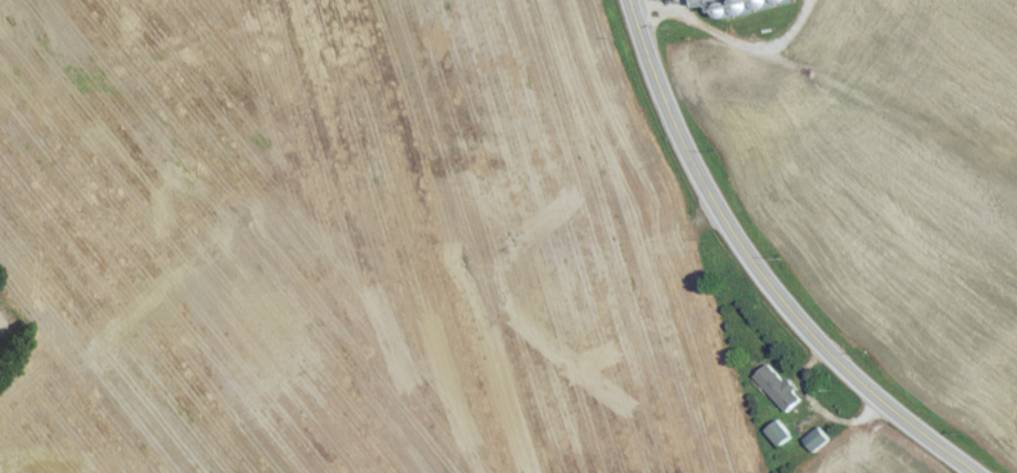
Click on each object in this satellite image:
road: (753, 269)
building: (777, 393)
building: (779, 439)
building: (816, 445)

